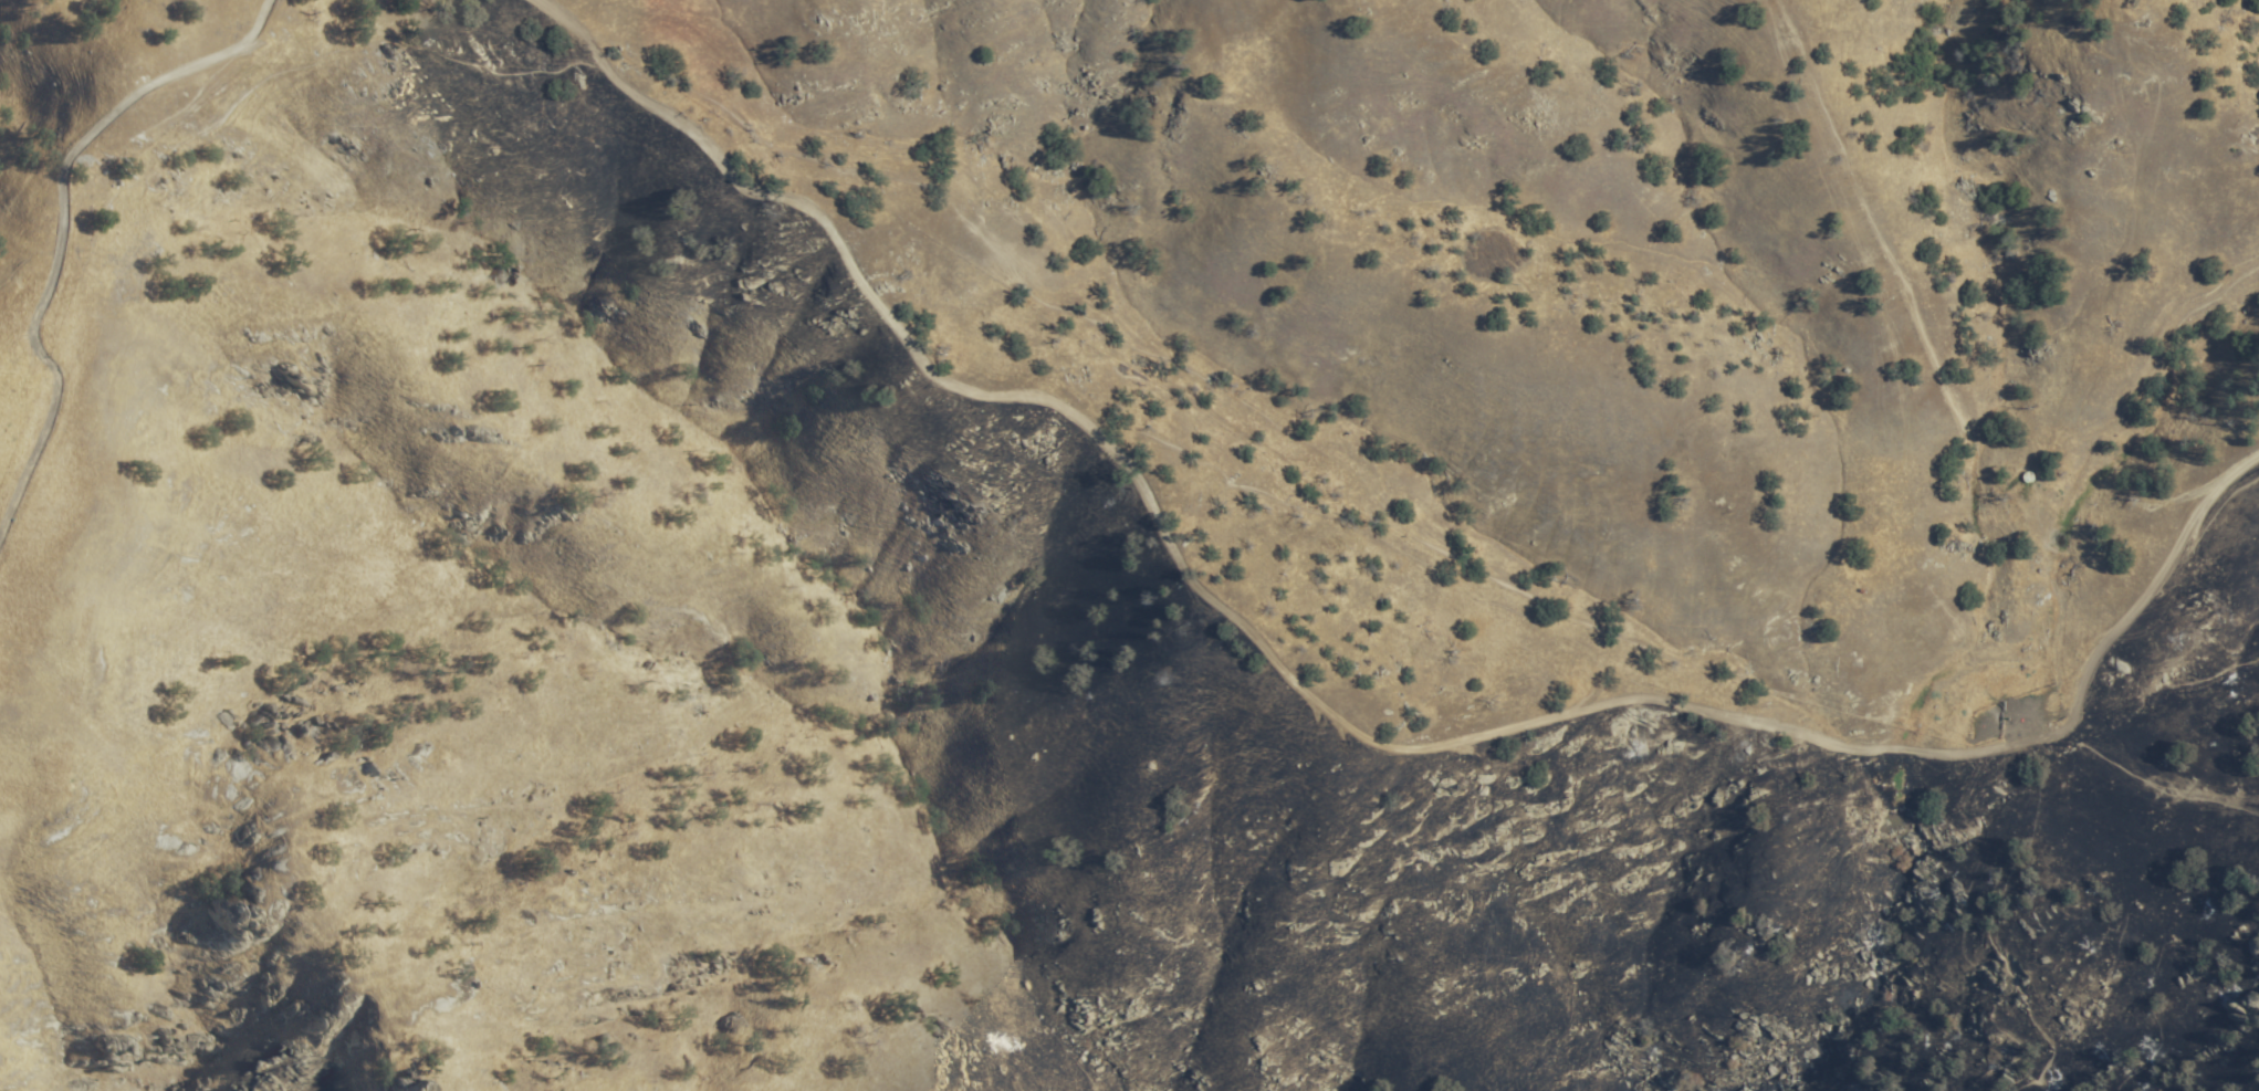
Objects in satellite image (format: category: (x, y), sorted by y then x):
road: (2124, 571)

